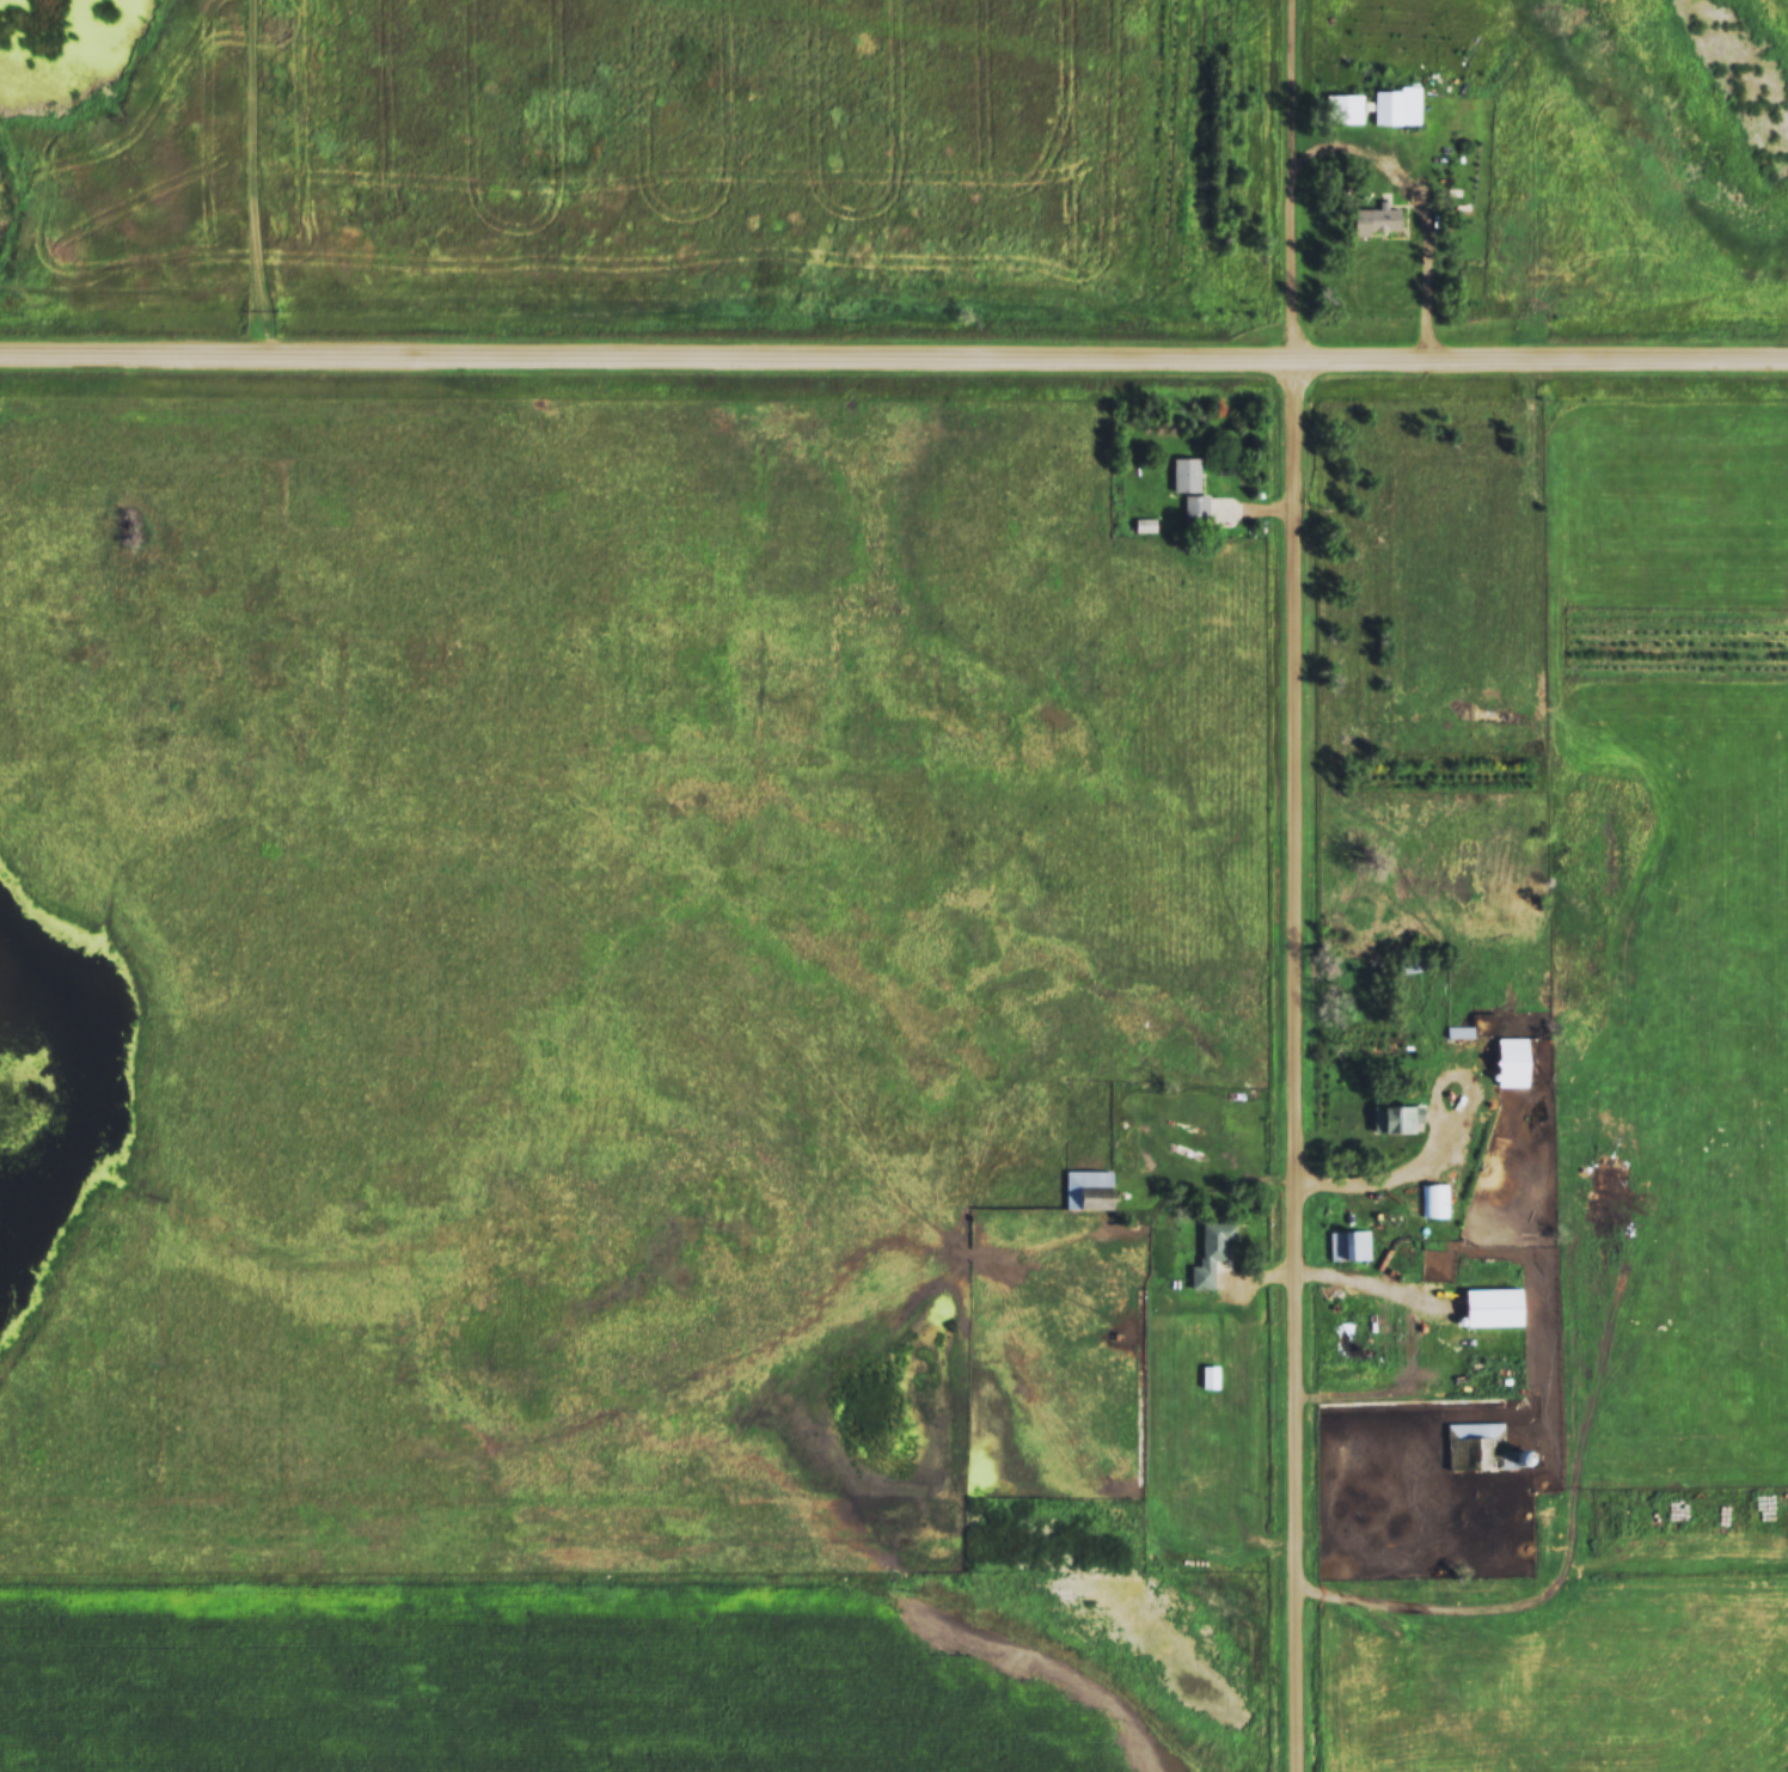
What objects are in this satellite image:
building: (1394, 105)
building: (1341, 108)
airport: (630, 157)
road: (255, 181)
road: (1415, 206)
building: (1373, 221)
road: (893, 362)
building: (1183, 473)
building: (1194, 508)
road: (1293, 887)
building: (1457, 1032)
building: (1505, 1062)
building: (1389, 1119)
road: (1379, 1175)
building: (1085, 1190)
building: (1431, 1200)
building: (1347, 1245)
building: (1208, 1252)
road: (1337, 1281)
building: (1208, 1375)
building: (1481, 1447)

